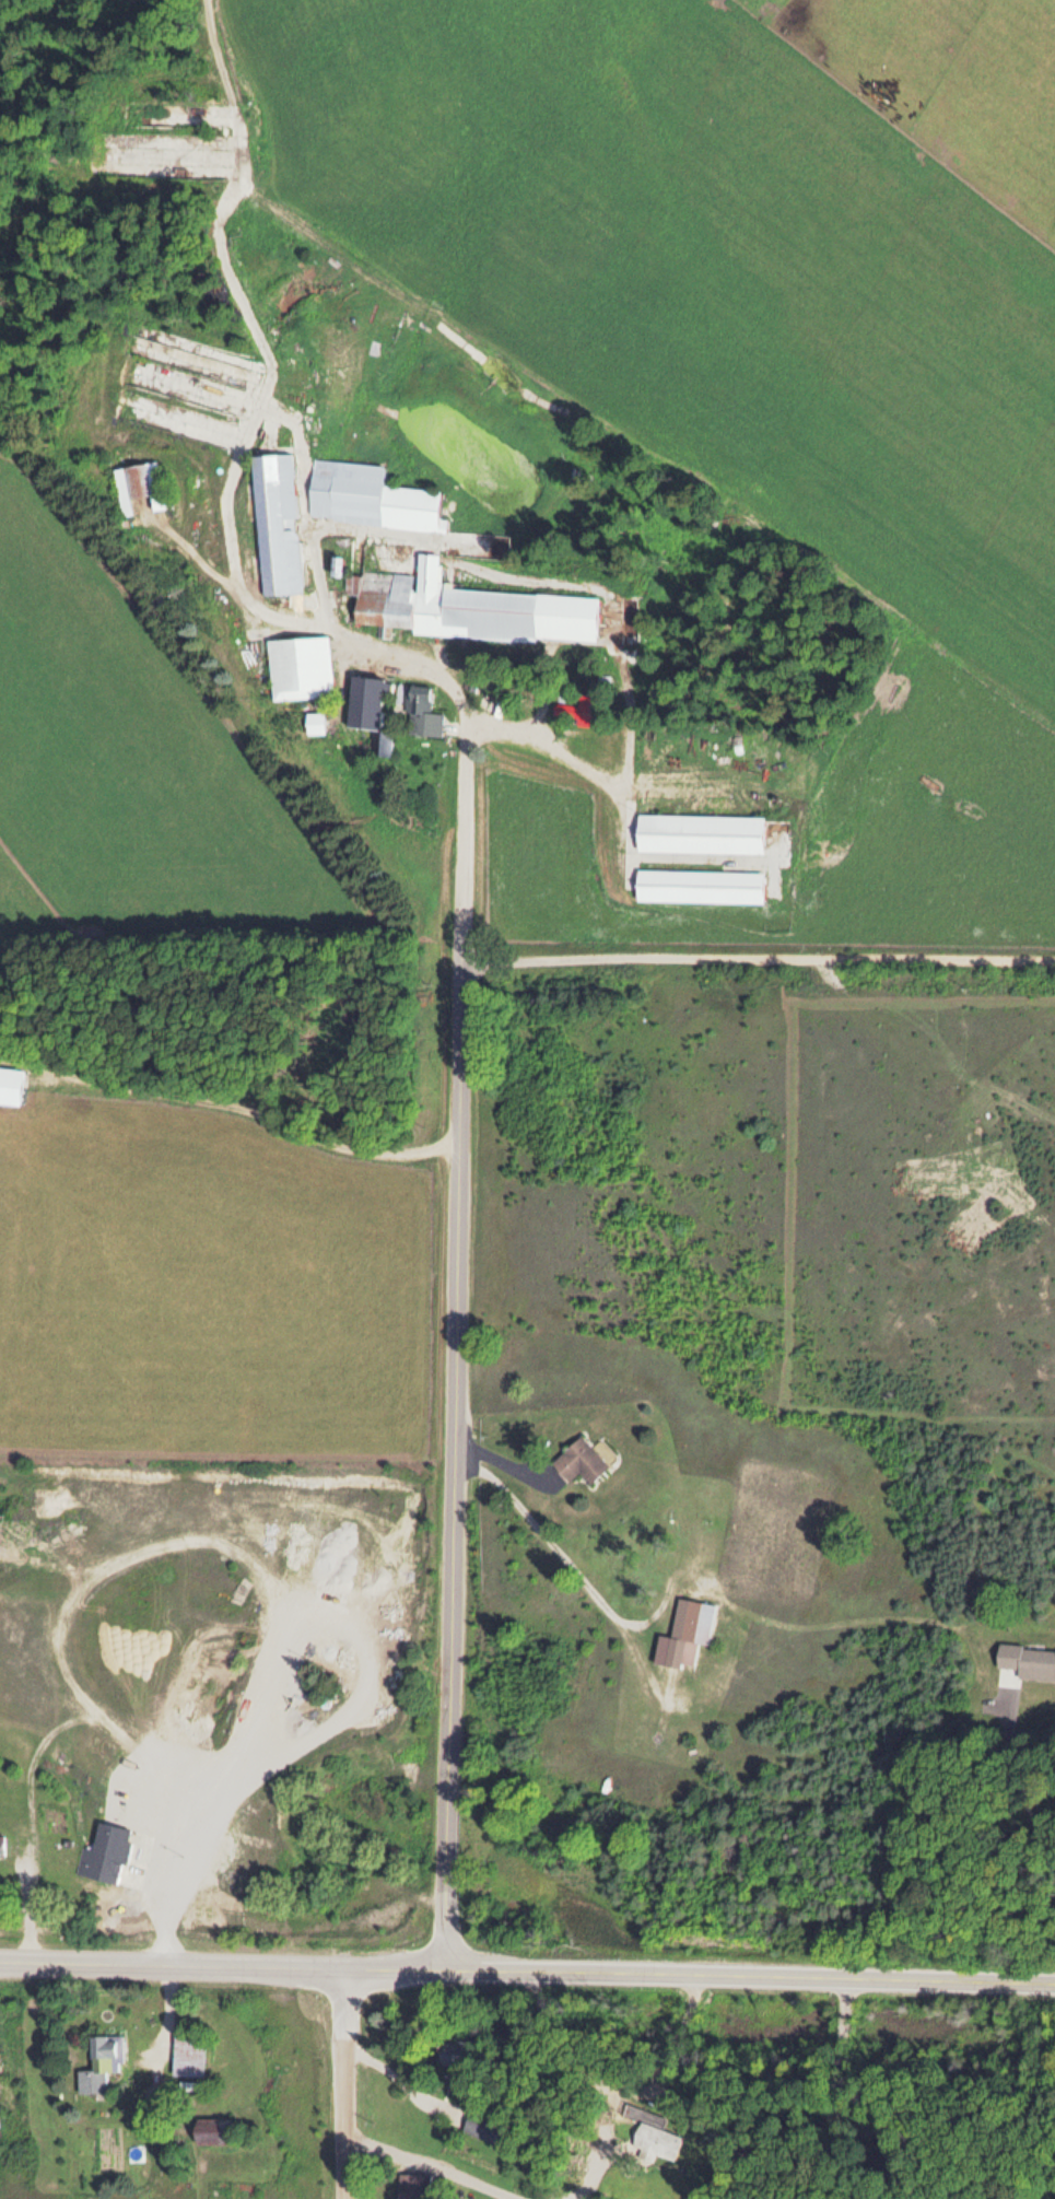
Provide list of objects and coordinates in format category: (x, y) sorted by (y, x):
road: (650, 436)
building: (138, 487)
building: (368, 496)
road: (305, 504)
building: (276, 523)
building: (748, 524)
road: (227, 538)
building: (468, 606)
building: (298, 667)
building: (365, 701)
building: (576, 709)
building: (421, 713)
building: (313, 723)
road: (586, 764)
road: (617, 822)
building: (699, 833)
building: (698, 886)
road: (757, 956)
building: (10, 1085)
building: (578, 1460)
road: (455, 1464)
building: (684, 1630)
building: (139, 1808)
building: (1, 1846)
building: (104, 1855)
road: (527, 1972)
building: (453, 2050)
building: (187, 2054)
building: (99, 2062)
road: (347, 2084)
building: (477, 2122)
building: (211, 2128)
building: (653, 2138)
building: (410, 2185)

